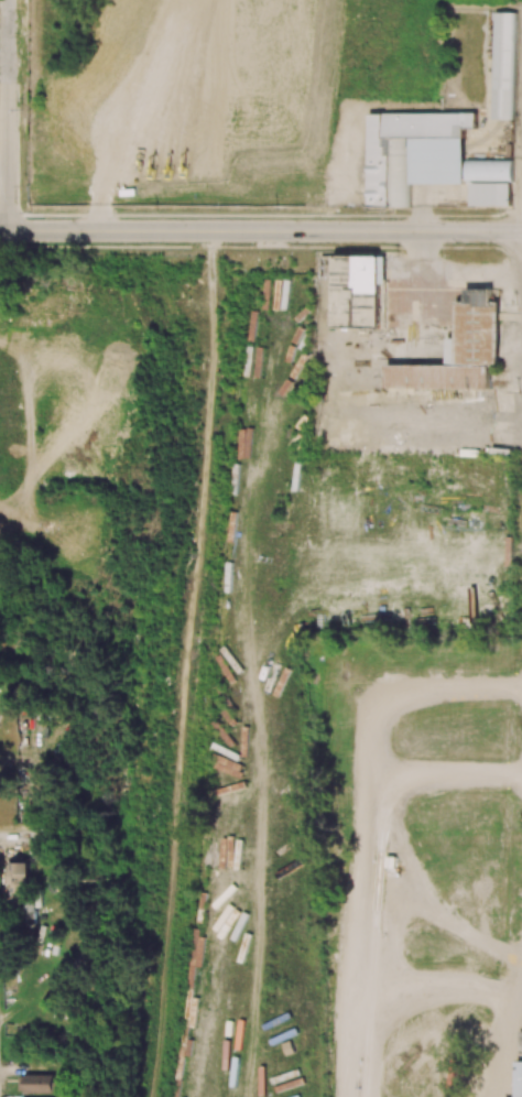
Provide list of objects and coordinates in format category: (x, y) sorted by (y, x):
building: (505, 65)
road: (7, 116)
building: (413, 153)
building: (488, 170)
building: (491, 193)
road: (261, 231)
building: (358, 291)
building: (458, 350)
road: (20, 838)
building: (19, 877)
building: (520, 1062)
building: (37, 1083)

